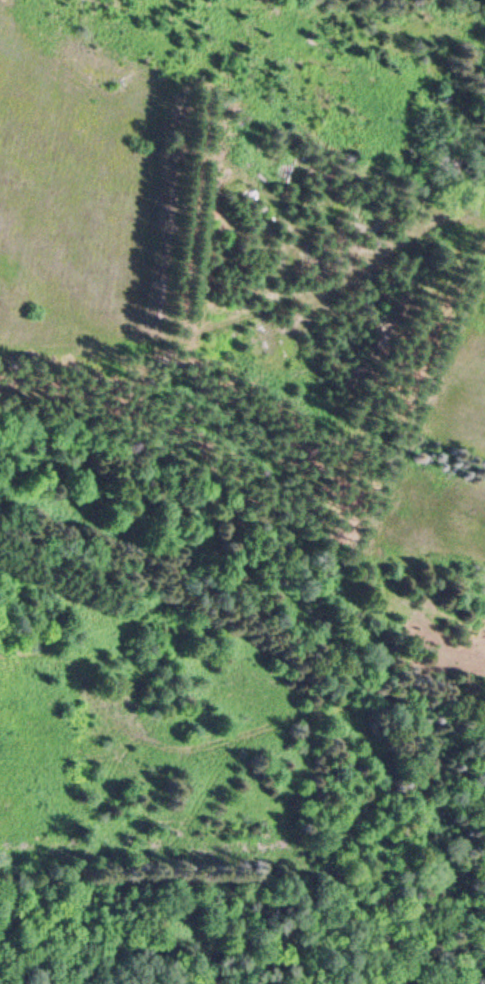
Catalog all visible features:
road: (346, 281)

